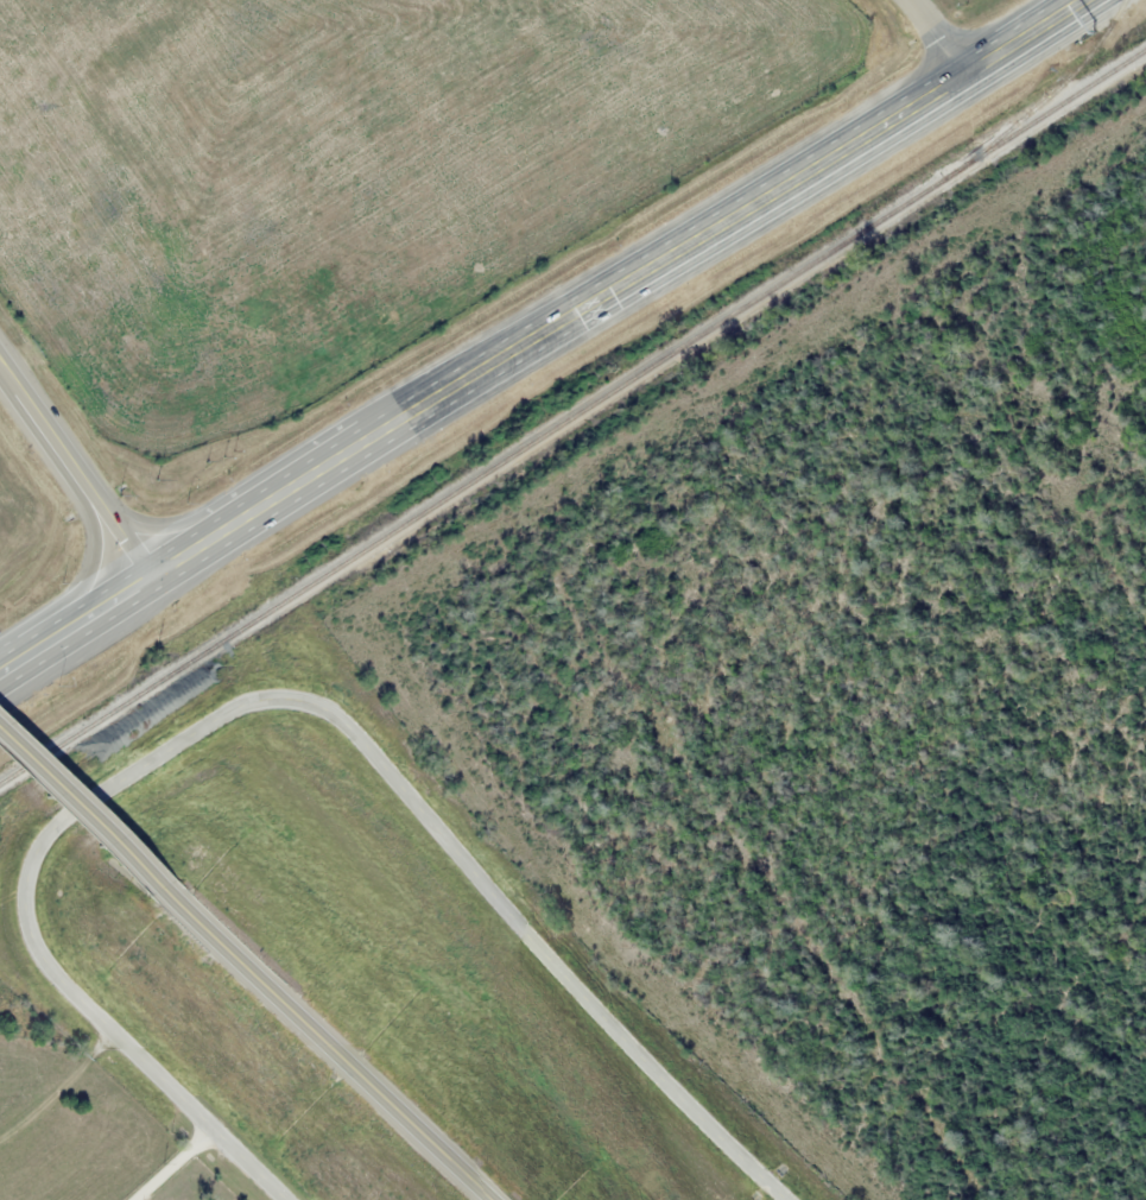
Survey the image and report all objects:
road: (930, 38)
railway: (1045, 84)
road: (614, 285)
road: (33, 410)
railway: (572, 419)
road: (108, 514)
road: (144, 516)
road: (90, 548)
road: (100, 601)
road: (25, 648)
road: (267, 700)
road: (78, 811)
road: (324, 1043)

